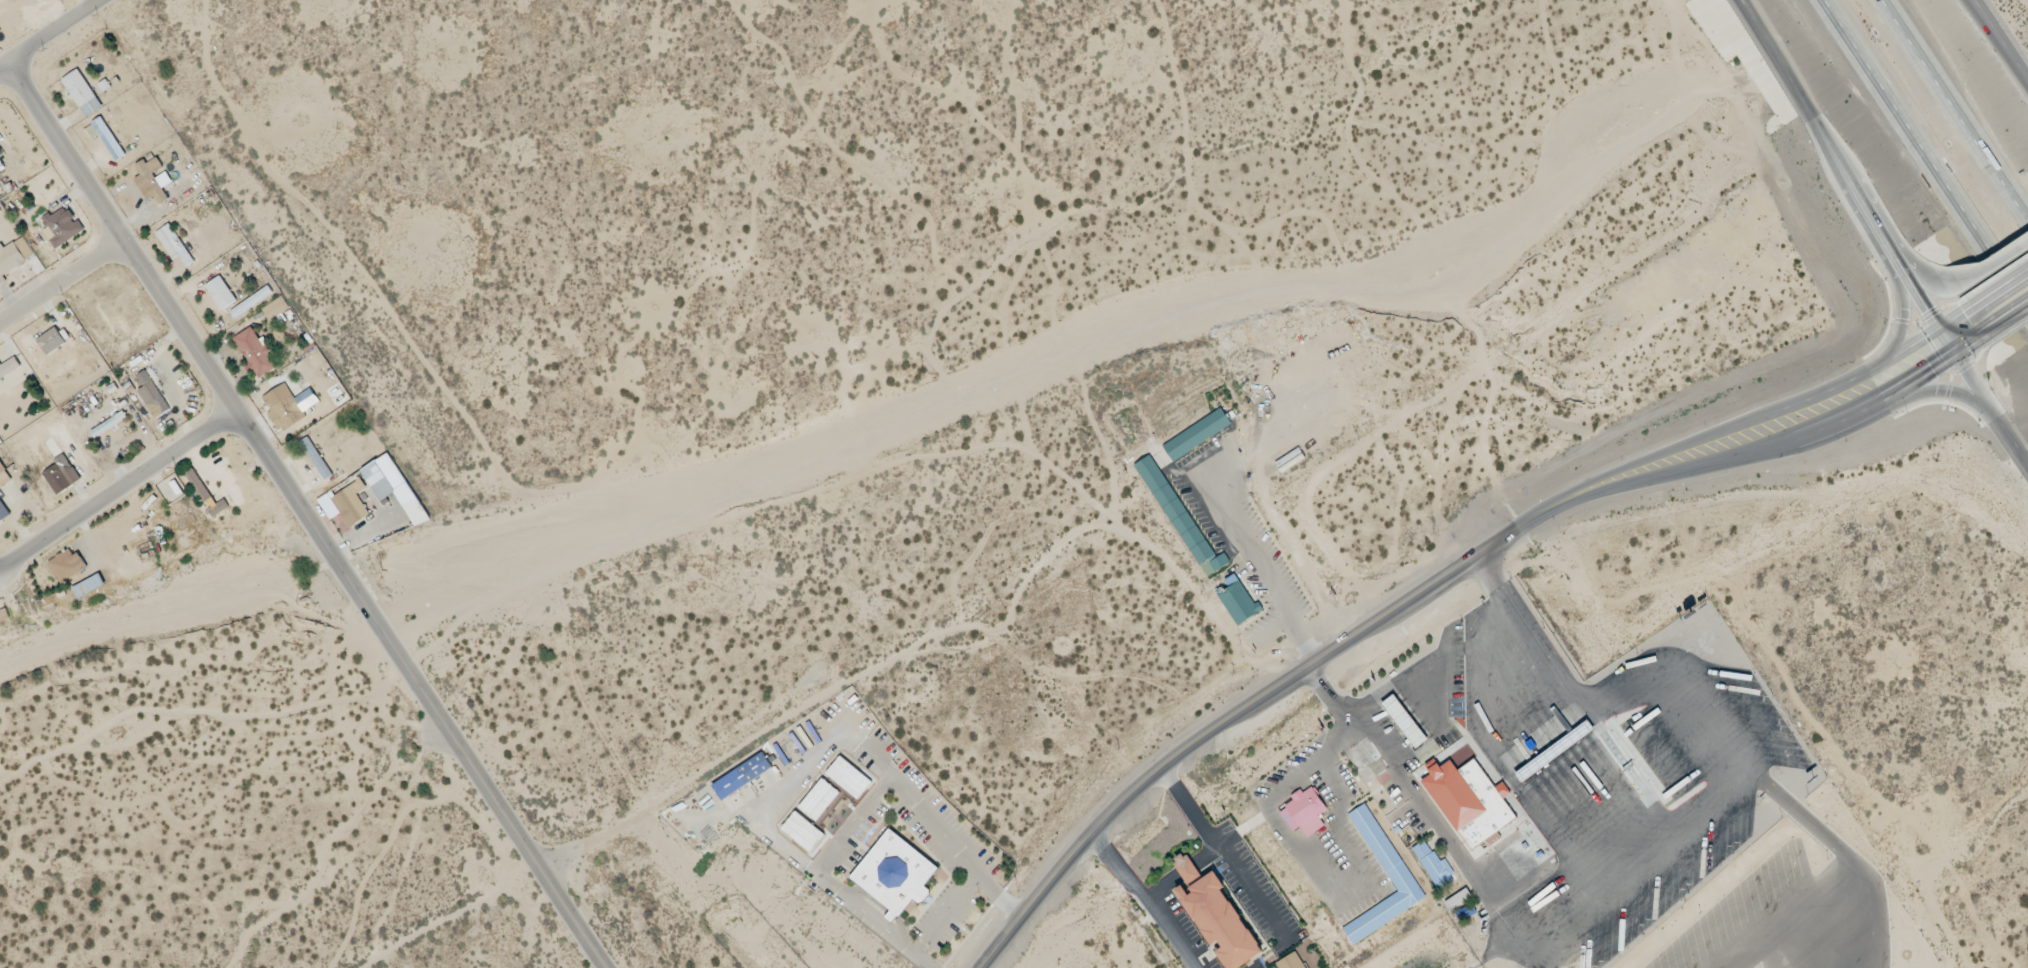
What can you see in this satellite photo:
road: (34, 21)
road: (1986, 25)
road: (2002, 39)
road: (1782, 61)
road: (1775, 62)
building: (81, 94)
road: (1952, 111)
building: (108, 139)
road: (1924, 154)
building: (1, 168)
building: (152, 180)
building: (61, 228)
road: (120, 229)
building: (173, 245)
road: (1900, 250)
building: (13, 257)
road: (1992, 264)
road: (57, 271)
road: (1943, 282)
building: (220, 293)
road: (1918, 296)
building: (251, 302)
road: (2003, 303)
building: (275, 309)
road: (174, 312)
road: (1903, 316)
road: (1962, 331)
building: (51, 341)
traffic signals: (1946, 342)
building: (255, 352)
building: (8, 368)
road: (1934, 391)
building: (152, 396)
building: (287, 406)
road: (1738, 425)
building: (112, 426)
building: (1196, 435)
road: (1752, 451)
building: (315, 459)
road: (114, 474)
building: (61, 475)
building: (4, 476)
building: (197, 486)
building: (0, 503)
building: (351, 504)
building: (218, 509)
building: (1180, 518)
building: (0, 521)
building: (67, 565)
building: (89, 587)
building: (1238, 602)
building: (4, 616)
road: (1521, 618)
road: (1431, 664)
road: (1231, 715)
building: (1404, 722)
road: (1342, 739)
road: (475, 772)
building: (742, 777)
building: (848, 778)
building: (818, 800)
building: (1469, 801)
building: (1304, 812)
building: (802, 832)
road: (554, 845)
road: (1224, 850)
building: (1385, 854)
road: (1208, 857)
building: (1434, 866)
road: (1187, 871)
building: (894, 874)
road: (1162, 887)
road: (1144, 898)
building: (1457, 900)
road: (444, 914)
building: (1215, 915)
building: (1291, 962)

